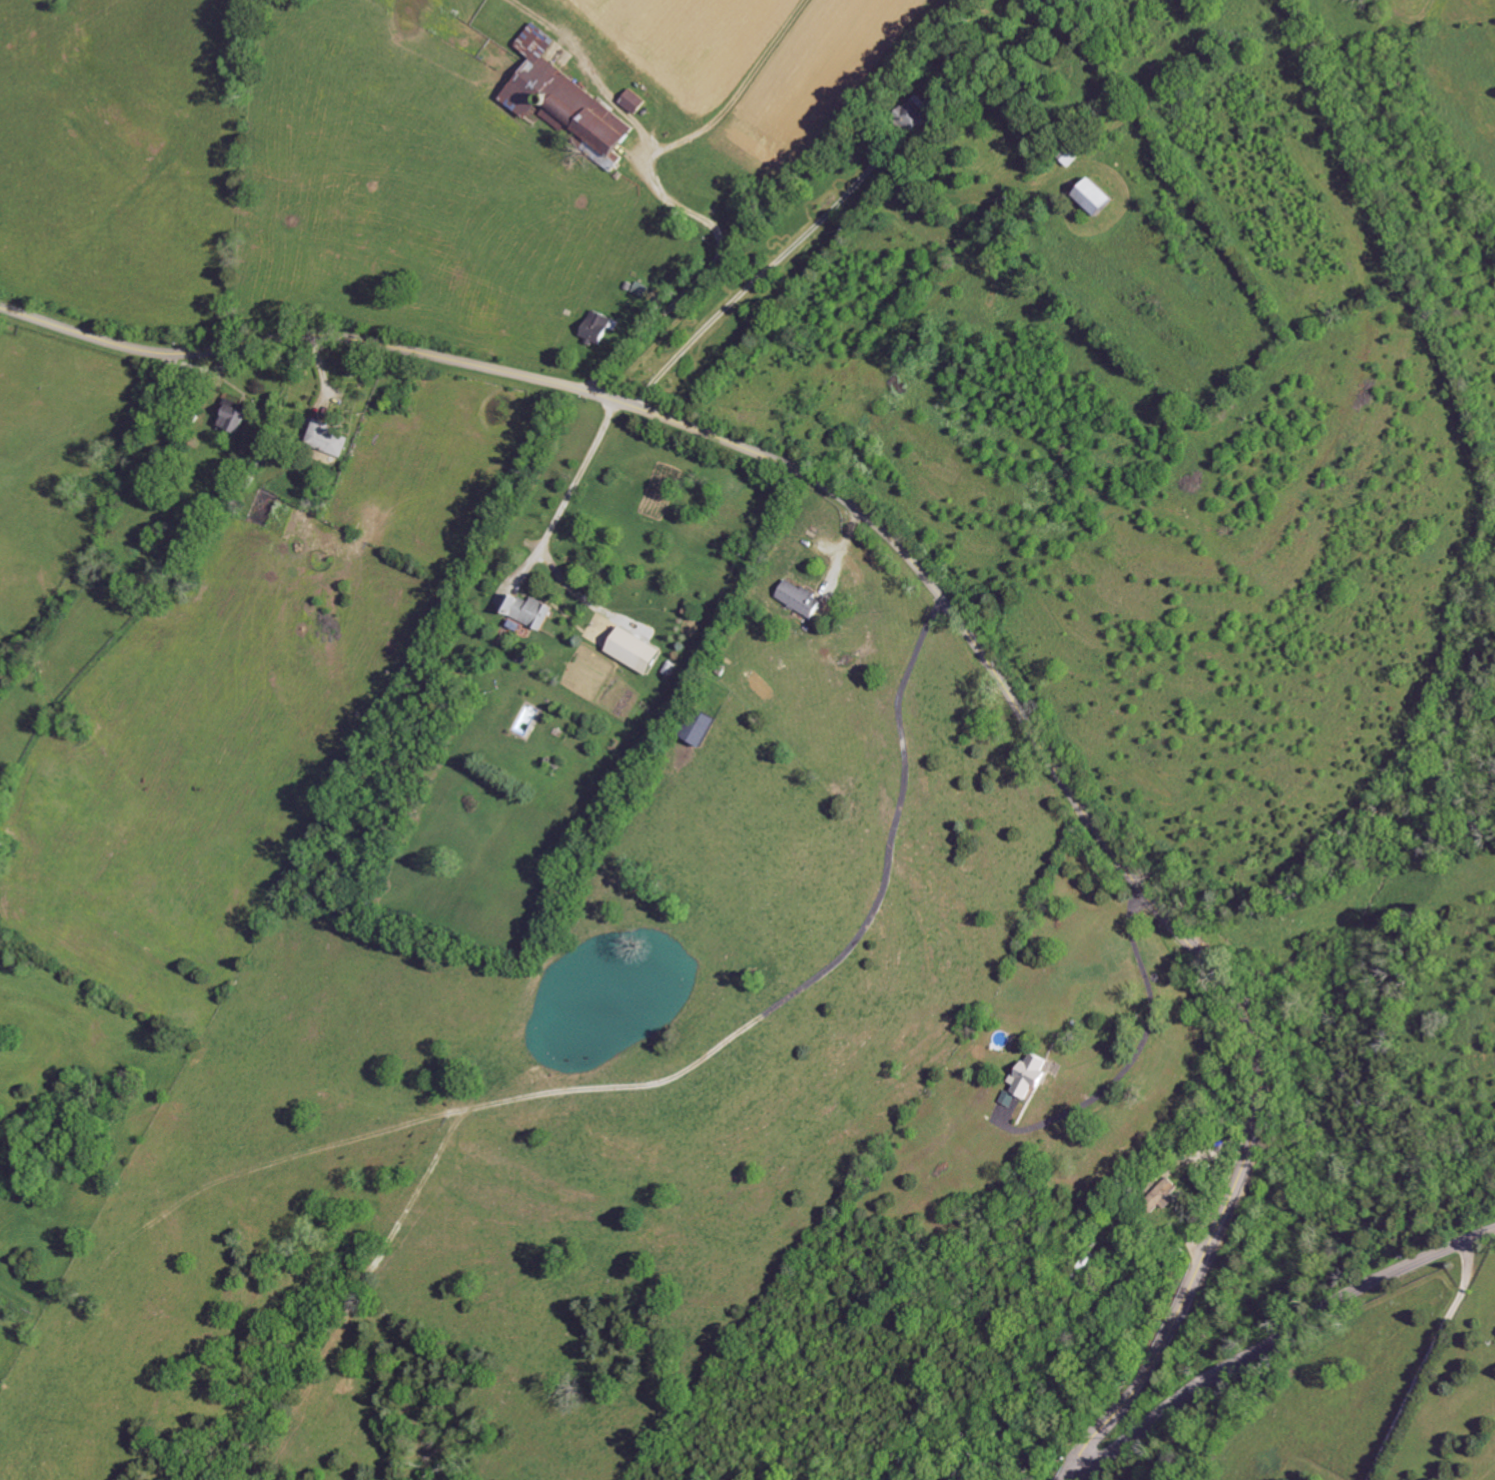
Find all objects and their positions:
building: (635, 102)
building: (918, 115)
building: (1097, 198)
road: (666, 203)
road: (755, 280)
road: (913, 317)
building: (600, 328)
building: (235, 420)
building: (328, 440)
road: (572, 488)
road: (839, 555)
road: (581, 598)
building: (802, 599)
road: (946, 605)
building: (529, 614)
building: (636, 652)
building: (703, 730)
road: (1132, 1059)
building: (1032, 1078)
building: (1010, 1100)
building: (1164, 1197)
road: (1278, 1340)
road: (1428, 1363)

